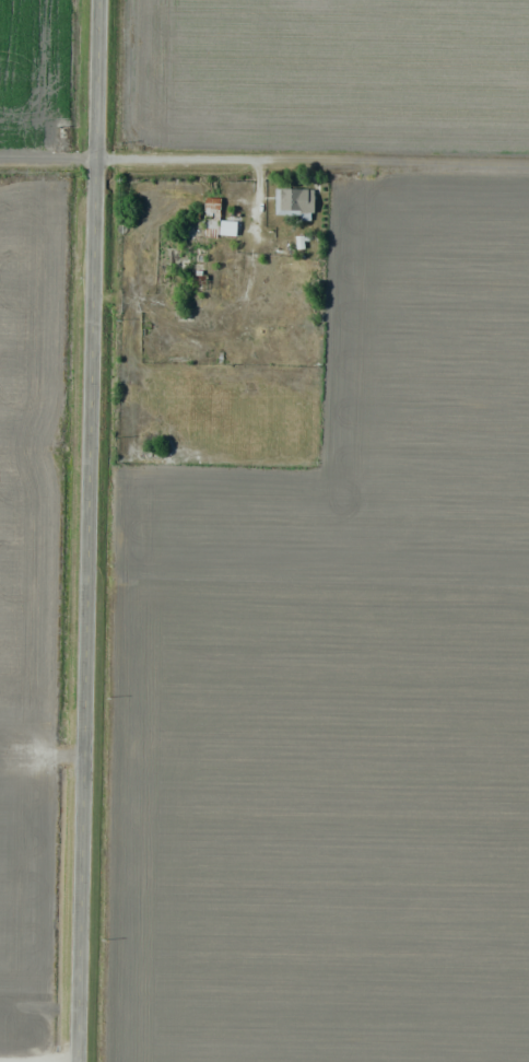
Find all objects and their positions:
road: (264, 162)
building: (295, 202)
building: (219, 220)
road: (84, 530)
building: (16, 754)

